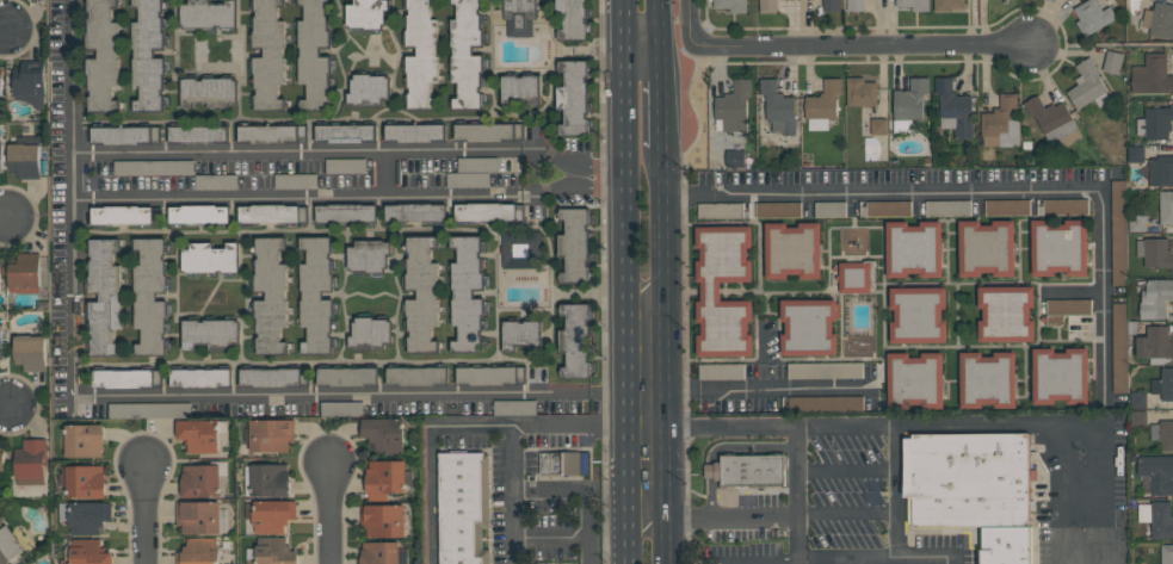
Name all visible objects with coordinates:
building: (913, 4)
building: (731, 5)
building: (832, 5)
building: (854, 5)
building: (947, 5)
building: (767, 6)
building: (208, 14)
building: (368, 14)
building: (519, 17)
building: (1092, 17)
building: (573, 19)
building: (1159, 19)
road: (658, 20)
road: (687, 25)
road: (4, 27)
road: (640, 42)
road: (870, 44)
road: (685, 45)
building: (421, 51)
building: (315, 54)
building: (467, 54)
building: (101, 55)
building: (268, 55)
building: (148, 56)
building: (1112, 62)
building: (1152, 75)
road: (70, 78)
building: (30, 82)
building: (0, 85)
building: (1088, 85)
building: (520, 89)
building: (369, 91)
building: (209, 92)
building: (860, 92)
road: (660, 95)
building: (573, 98)
building: (909, 104)
building: (823, 105)
building: (733, 106)
building: (778, 107)
building: (953, 109)
building: (1052, 120)
building: (1155, 122)
building: (1001, 123)
building: (878, 126)
building: (488, 131)
building: (345, 132)
building: (414, 132)
building: (199, 134)
building: (272, 134)
building: (124, 135)
road: (690, 145)
building: (1135, 153)
road: (301, 154)
building: (1, 156)
building: (24, 156)
building: (735, 156)
building: (345, 166)
building: (155, 167)
building: (1161, 171)
building: (473, 172)
road: (531, 174)
road: (598, 174)
road: (574, 175)
road: (383, 176)
road: (72, 179)
building: (310, 181)
road: (884, 198)
road: (301, 200)
building: (939, 207)
building: (1007, 207)
building: (1166, 207)
building: (778, 209)
building: (888, 209)
building: (710, 210)
building: (488, 211)
building: (346, 212)
building: (415, 212)
building: (198, 213)
building: (272, 213)
building: (125, 215)
road: (4, 218)
building: (1137, 223)
building: (1118, 233)
building: (575, 246)
building: (1058, 247)
building: (986, 248)
building: (521, 249)
building: (914, 249)
building: (792, 250)
building: (1155, 252)
building: (369, 255)
building: (210, 258)
building: (24, 273)
building: (857, 275)
road: (622, 281)
building: (0, 287)
building: (710, 291)
building: (270, 295)
building: (316, 295)
building: (421, 295)
building: (467, 295)
building: (150, 296)
building: (104, 297)
road: (1105, 298)
building: (1155, 298)
building: (1066, 309)
building: (1006, 314)
building: (918, 315)
building: (808, 327)
building: (370, 333)
building: (211, 334)
building: (521, 335)
building: (575, 340)
building: (1, 343)
building: (1155, 345)
building: (1119, 348)
building: (30, 352)
road: (666, 357)
building: (825, 371)
building: (721, 372)
building: (489, 374)
building: (347, 376)
building: (416, 376)
building: (1060, 376)
building: (125, 377)
building: (200, 377)
building: (273, 377)
building: (988, 379)
building: (915, 380)
building: (1163, 384)
road: (768, 388)
road: (607, 391)
road: (646, 391)
road: (234, 397)
building: (1138, 399)
building: (822, 403)
road: (8, 404)
building: (149, 410)
building: (1137, 417)
road: (952, 423)
road: (520, 427)
building: (384, 433)
building: (200, 434)
building: (271, 434)
building: (1162, 434)
building: (85, 440)
road: (434, 458)
building: (30, 461)
building: (1, 463)
building: (560, 463)
building: (748, 471)
road: (847, 471)
building: (1157, 472)
building: (384, 478)
building: (270, 479)
building: (82, 481)
building: (200, 481)
road: (587, 490)
road: (896, 491)
building: (971, 492)
road: (798, 494)
building: (463, 509)
road: (143, 513)
building: (271, 514)
road: (331, 514)
road: (847, 514)
road: (714, 515)
building: (88, 516)
building: (198, 516)
building: (1156, 517)
building: (383, 520)
building: (8, 545)
building: (198, 551)
building: (273, 551)
building: (87, 552)
building: (383, 553)
building: (1167, 553)
road: (832, 560)
road: (955, 560)

